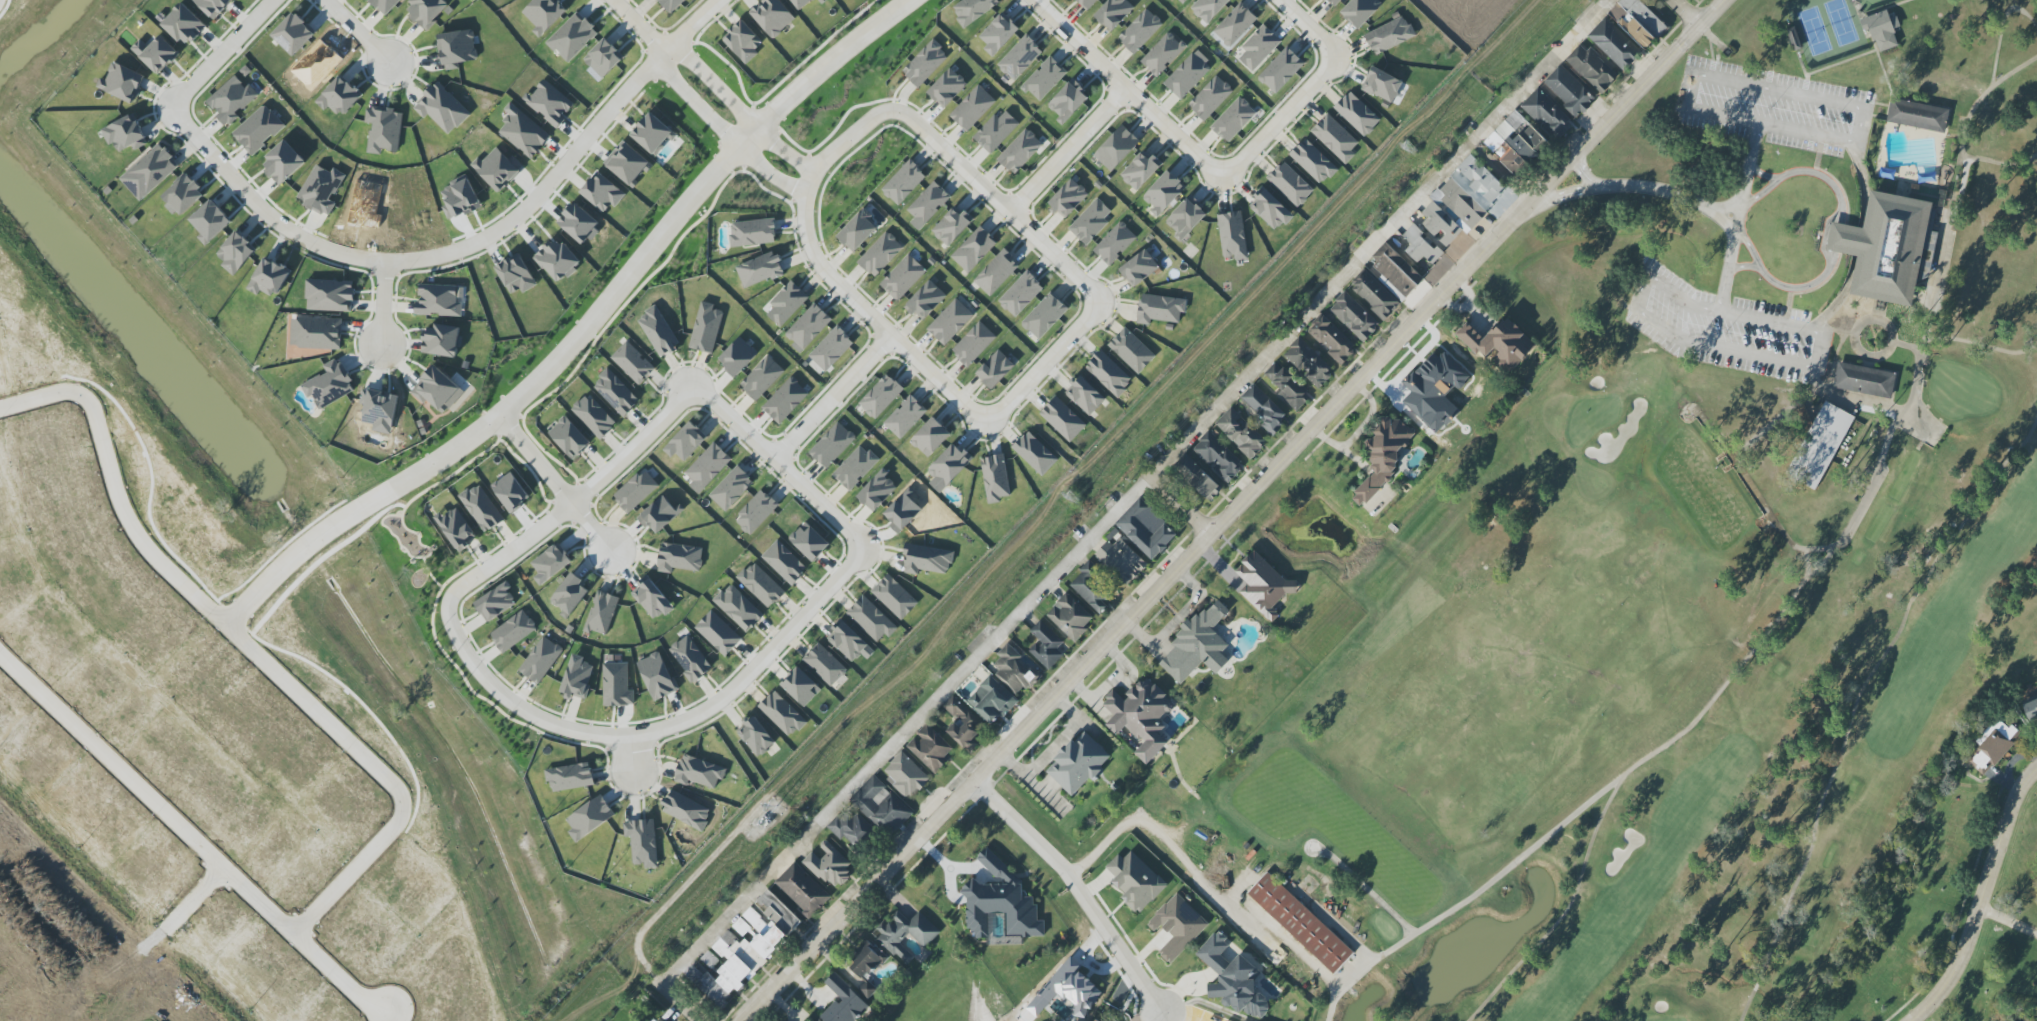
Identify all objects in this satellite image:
building: (1180, 1)
building: (1334, 2)
building: (801, 3)
building: (1086, 3)
building: (671, 4)
building: (385, 5)
building: (213, 6)
building: (973, 9)
building: (1209, 9)
building: (426, 11)
building: (1360, 11)
building: (1114, 13)
building: (544, 14)
road: (1690, 14)
building: (773, 16)
building: (1638, 21)
building: (183, 24)
building: (1235, 25)
road: (637, 27)
road: (1307, 29)
building: (1883, 30)
building: (1140, 31)
road: (356, 33)
building: (294, 34)
building: (998, 34)
building: (1389, 35)
building: (572, 37)
building: (743, 42)
building: (1615, 44)
road: (1066, 45)
building: (1259, 47)
building: (457, 49)
building: (156, 53)
building: (1163, 53)
road: (223, 55)
building: (604, 58)
building: (1020, 58)
building: (925, 63)
building: (1592, 68)
building: (1281, 70)
building: (1187, 76)
building: (1044, 79)
road: (810, 80)
building: (122, 83)
park: (854, 86)
building: (1382, 86)
building: (947, 88)
road: (1126, 91)
building: (1569, 91)
building: (339, 97)
building: (1210, 98)
building: (231, 100)
building: (1068, 101)
building: (549, 103)
building: (441, 108)
building: (972, 108)
road: (740, 111)
building: (1547, 113)
building: (1357, 114)
building: (1918, 115)
building: (1233, 119)
road: (1280, 121)
building: (258, 129)
building: (383, 129)
building: (996, 131)
building: (524, 133)
building: (125, 134)
building: (652, 134)
road: (723, 134)
road: (949, 137)
building: (1335, 138)
building: (1516, 142)
road: (1859, 143)
power tower: (1412, 147)
building: (1116, 148)
building: (1020, 151)
road: (1068, 154)
road: (1213, 154)
road: (1999, 157)
road: (570, 161)
building: (1313, 161)
building: (283, 163)
building: (627, 163)
building: (498, 169)
park: (861, 171)
building: (1140, 171)
building: (150, 172)
road: (1502, 173)
road: (1580, 173)
road: (1764, 173)
building: (1480, 177)
building: (904, 182)
building: (1290, 184)
road: (1624, 186)
road: (1954, 187)
building: (321, 189)
building: (603, 192)
building: (1164, 193)
building: (183, 195)
building: (1068, 198)
building: (928, 205)
road: (998, 205)
building: (1270, 209)
road: (262, 211)
building: (1452, 212)
building: (1186, 218)
building: (210, 222)
building: (1091, 222)
building: (952, 226)
building: (858, 231)
building: (753, 233)
road: (1736, 235)
building: (1232, 236)
road: (1381, 236)
building: (1115, 243)
road: (1863, 243)
building: (1420, 245)
building: (1885, 248)
building: (974, 249)
building: (236, 253)
building: (880, 254)
road: (803, 258)
building: (558, 260)
road: (1831, 266)
road: (1746, 267)
building: (1139, 268)
building: (1396, 269)
building: (760, 270)
building: (1924, 271)
building: (997, 273)
building: (516, 275)
building: (903, 277)
building: (269, 278)
road: (829, 280)
building: (1021, 294)
building: (1374, 294)
building: (330, 295)
building: (440, 300)
building: (926, 301)
road: (383, 303)
building: (786, 303)
building: (1159, 309)
building: (1044, 316)
building: (1354, 317)
building: (950, 322)
building: (808, 327)
building: (706, 328)
building: (658, 332)
building: (316, 333)
building: (1332, 339)
building: (442, 340)
building: (1499, 343)
building: (973, 344)
road: (1048, 344)
road: (569, 347)
building: (831, 348)
building: (1131, 350)
building: (737, 356)
building: (1309, 362)
building: (633, 363)
road: (1044, 366)
road: (1816, 367)
road: (861, 369)
building: (995, 369)
building: (1109, 373)
building: (762, 378)
building: (1864, 380)
building: (329, 385)
building: (1287, 385)
building: (437, 390)
building: (1434, 390)
building: (616, 393)
building: (1085, 395)
building: (881, 396)
building: (785, 400)
building: (1265, 409)
building: (379, 410)
building: (593, 416)
building: (905, 417)
building: (1063, 419)
road: (803, 427)
building: (1241, 433)
building: (930, 437)
building: (569, 438)
building: (686, 442)
building: (832, 445)
building: (1819, 445)
building: (1035, 453)
building: (1383, 456)
building: (1218, 457)
building: (708, 466)
building: (855, 467)
building: (948, 467)
building: (1197, 477)
building: (995, 478)
road: (555, 483)
road: (115, 486)
building: (731, 488)
building: (510, 491)
building: (636, 491)
building: (877, 491)
power tower: (1078, 503)
road: (1182, 504)
building: (481, 508)
road: (1236, 508)
road: (847, 511)
building: (756, 512)
building: (658, 514)
building: (456, 528)
building: (1146, 529)
road: (420, 537)
building: (809, 543)
road: (301, 550)
building: (679, 558)
building: (1121, 559)
building: (927, 560)
building: (552, 562)
building: (784, 562)
park: (1686, 562)
building: (1263, 584)
building: (761, 585)
building: (1091, 587)
building: (570, 595)
building: (895, 597)
building: (652, 598)
building: (496, 602)
park: (435, 605)
building: (738, 608)
building: (601, 613)
building: (1070, 617)
building: (871, 619)
building: (513, 631)
building: (718, 633)
road: (1768, 637)
building: (848, 641)
helipad: (332, 643)
building: (1198, 644)
building: (1046, 645)
building: (690, 659)
building: (541, 660)
road: (758, 664)
building: (825, 665)
building: (1014, 670)
building: (657, 676)
building: (577, 678)
building: (616, 685)
building: (801, 687)
building: (992, 700)
road: (1858, 706)
building: (2031, 709)
building: (782, 714)
road: (661, 715)
building: (1141, 716)
building: (963, 724)
road: (908, 729)
building: (756, 736)
building: (1993, 746)
building: (930, 748)
road: (1052, 748)
road: (633, 758)
building: (1078, 763)
building: (699, 772)
road: (380, 773)
building: (905, 775)
building: (569, 777)
building: (882, 806)
building: (686, 810)
building: (589, 818)
power tower: (761, 823)
road: (1022, 828)
building: (851, 829)
road: (191, 838)
building: (642, 842)
road: (1170, 856)
building: (829, 866)
building: (1135, 880)
road: (1367, 889)
building: (802, 890)
road: (1465, 895)
road: (1982, 898)
building: (1001, 902)
building: (1300, 923)
building: (1178, 926)
road: (161, 933)
building: (906, 934)
road: (1116, 944)
building: (746, 949)
building: (865, 960)
road: (61, 964)
building: (1233, 979)
building: (867, 988)
building: (1072, 988)
park: (950, 990)
road: (681, 1002)
building: (843, 1002)
road: (1206, 1003)
building: (659, 1019)
building: (808, 1020)
building: (1095, 1020)

